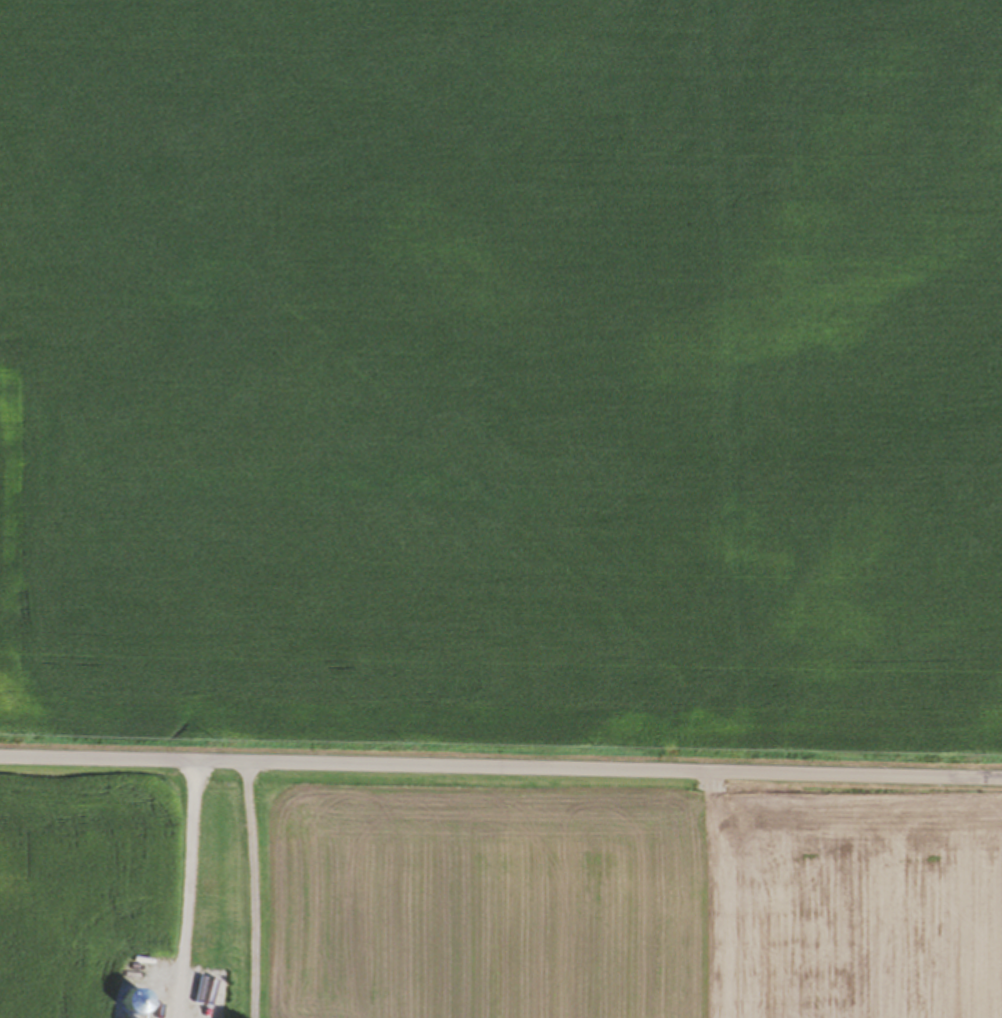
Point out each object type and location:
road: (500, 768)
road: (187, 890)
road: (252, 890)

